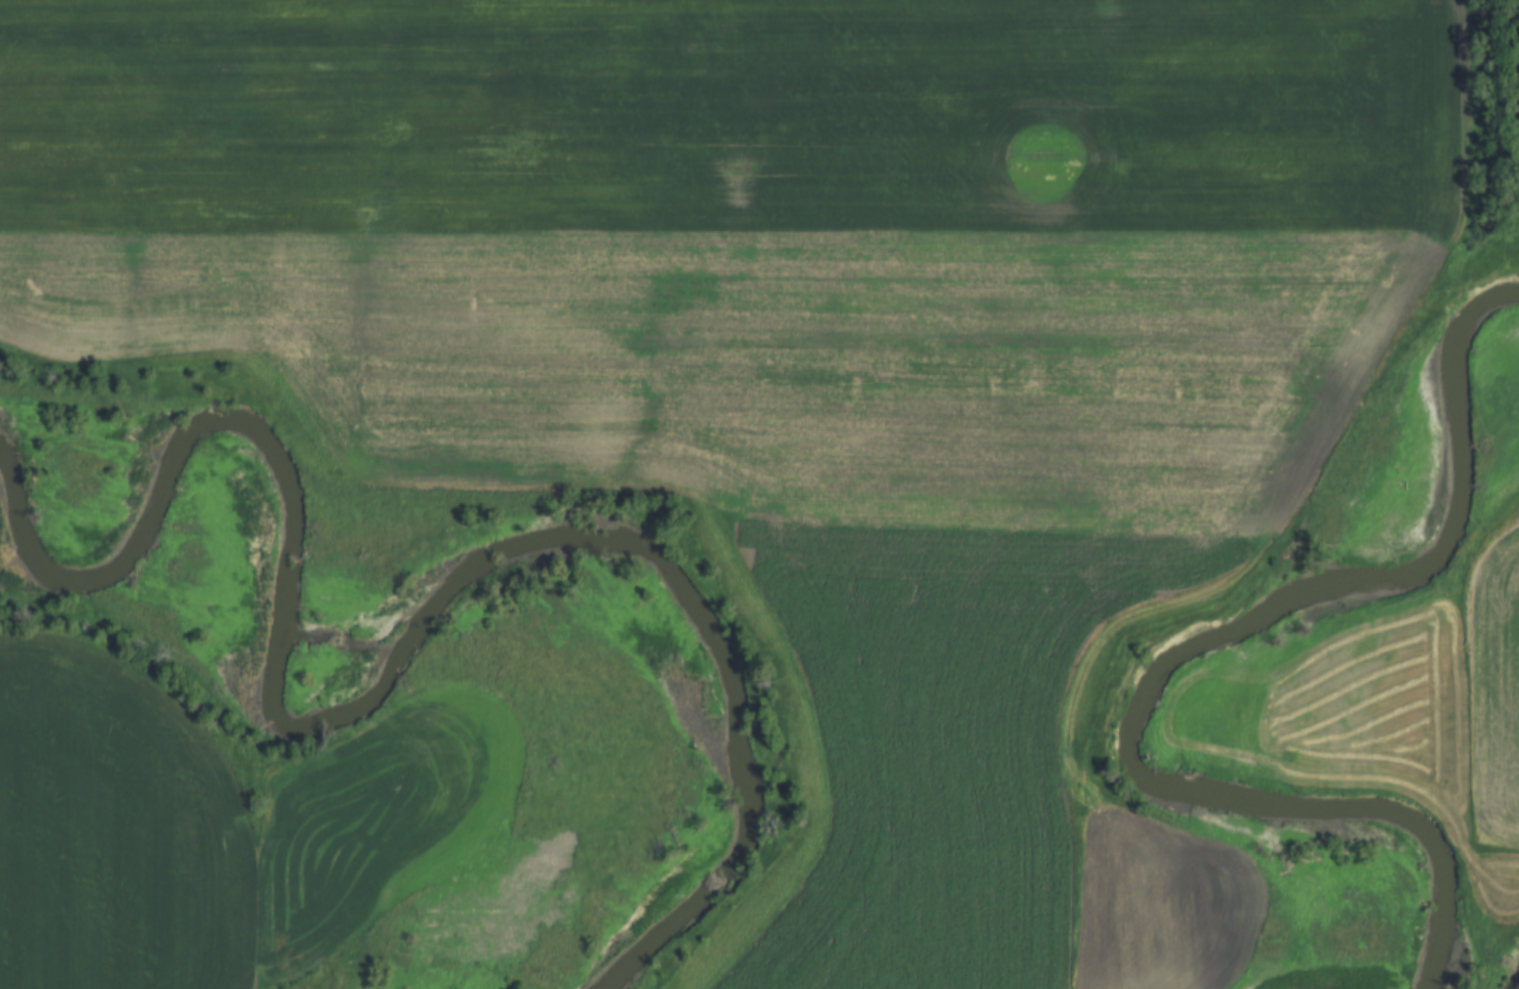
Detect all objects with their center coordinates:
river: (1207, 662)
river: (359, 685)

